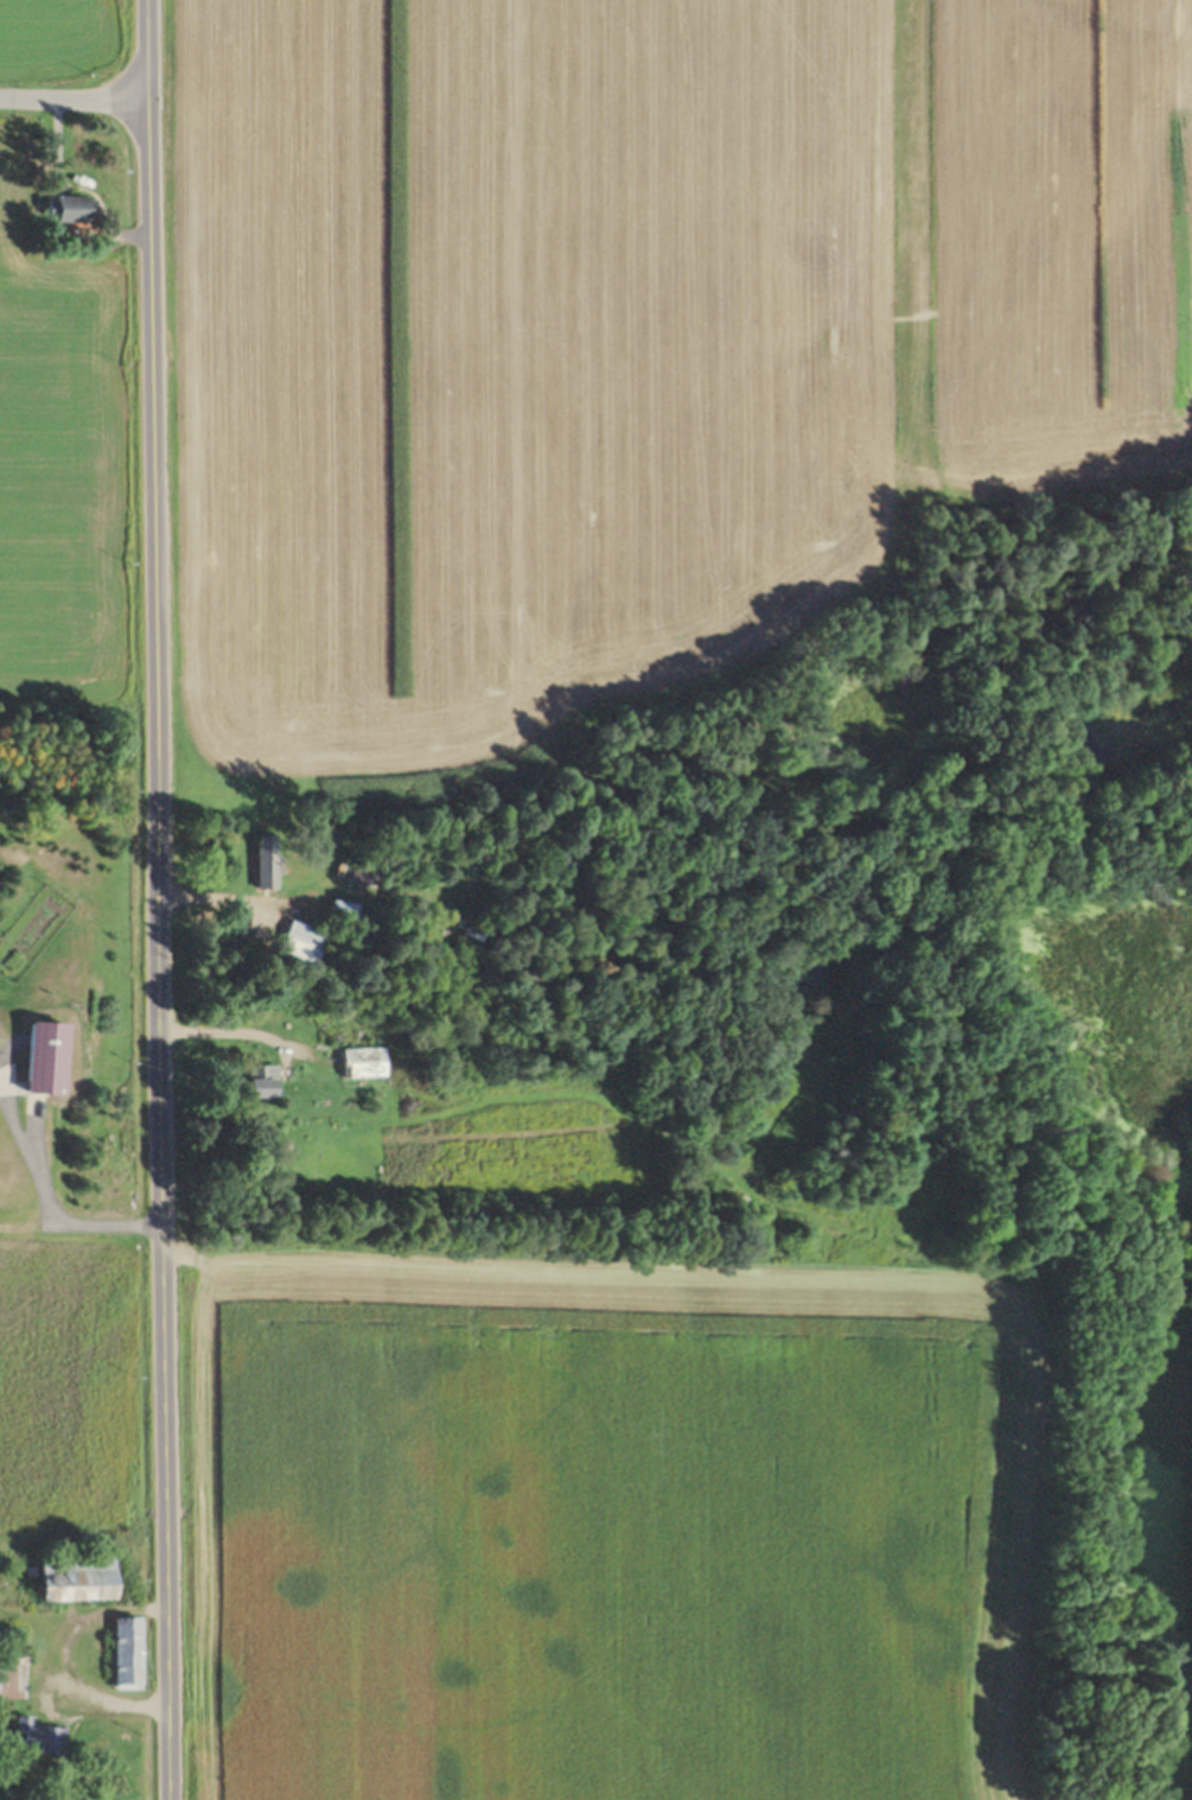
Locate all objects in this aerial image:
road: (71, 97)
building: (76, 209)
building: (267, 863)
building: (365, 876)
road: (154, 899)
building: (346, 908)
building: (304, 942)
building: (50, 1060)
building: (268, 1082)
road: (43, 1200)
building: (79, 1578)
building: (129, 1653)
road: (63, 1656)
building: (13, 1668)
building: (37, 1738)

